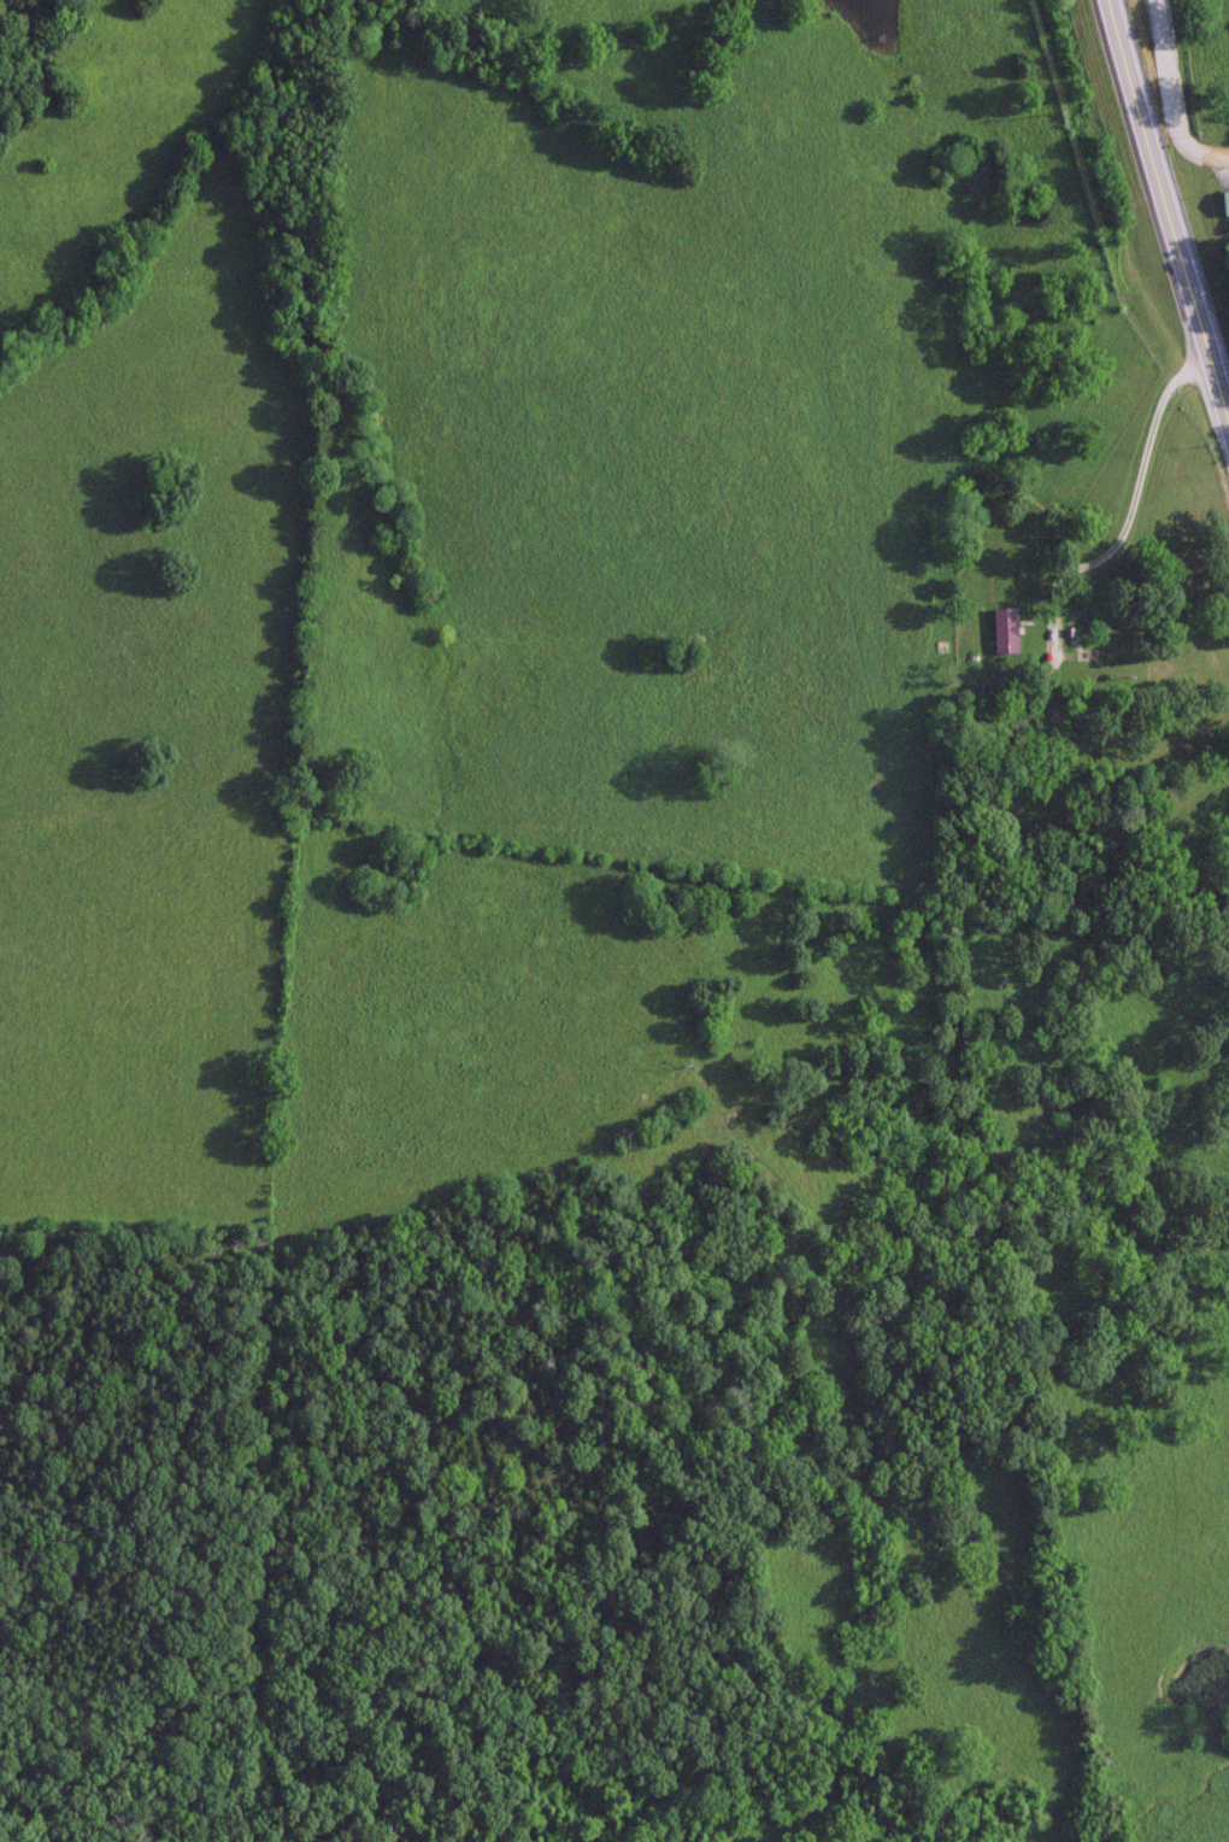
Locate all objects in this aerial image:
road: (1166, 95)
building: (1223, 199)
road: (1156, 246)
building: (1002, 628)

